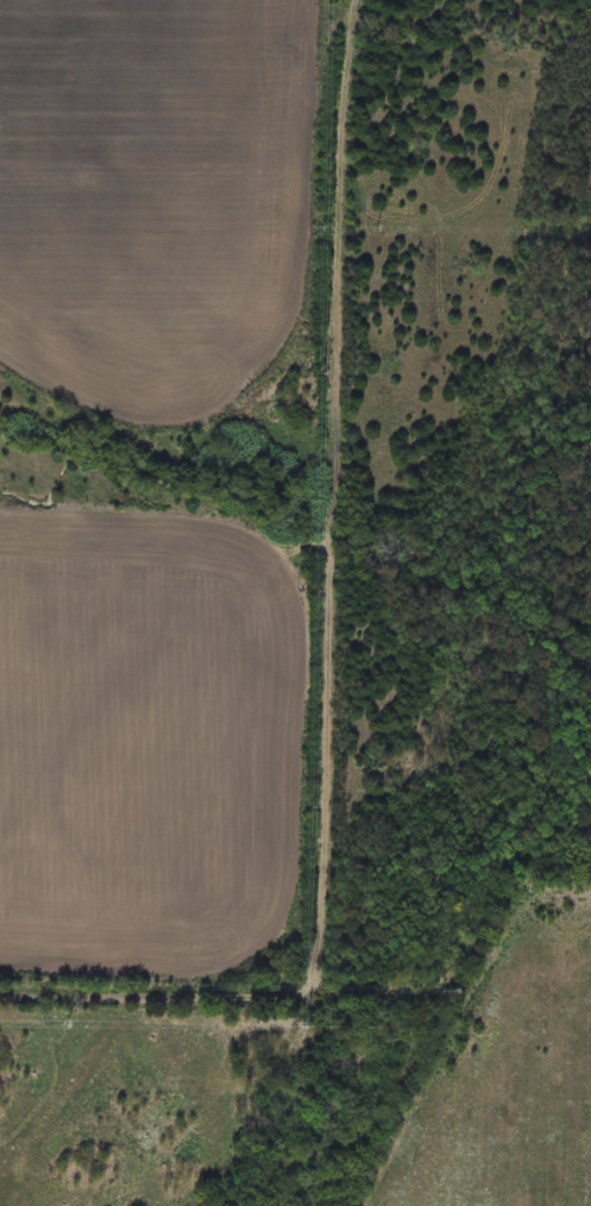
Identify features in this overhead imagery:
road: (329, 649)

